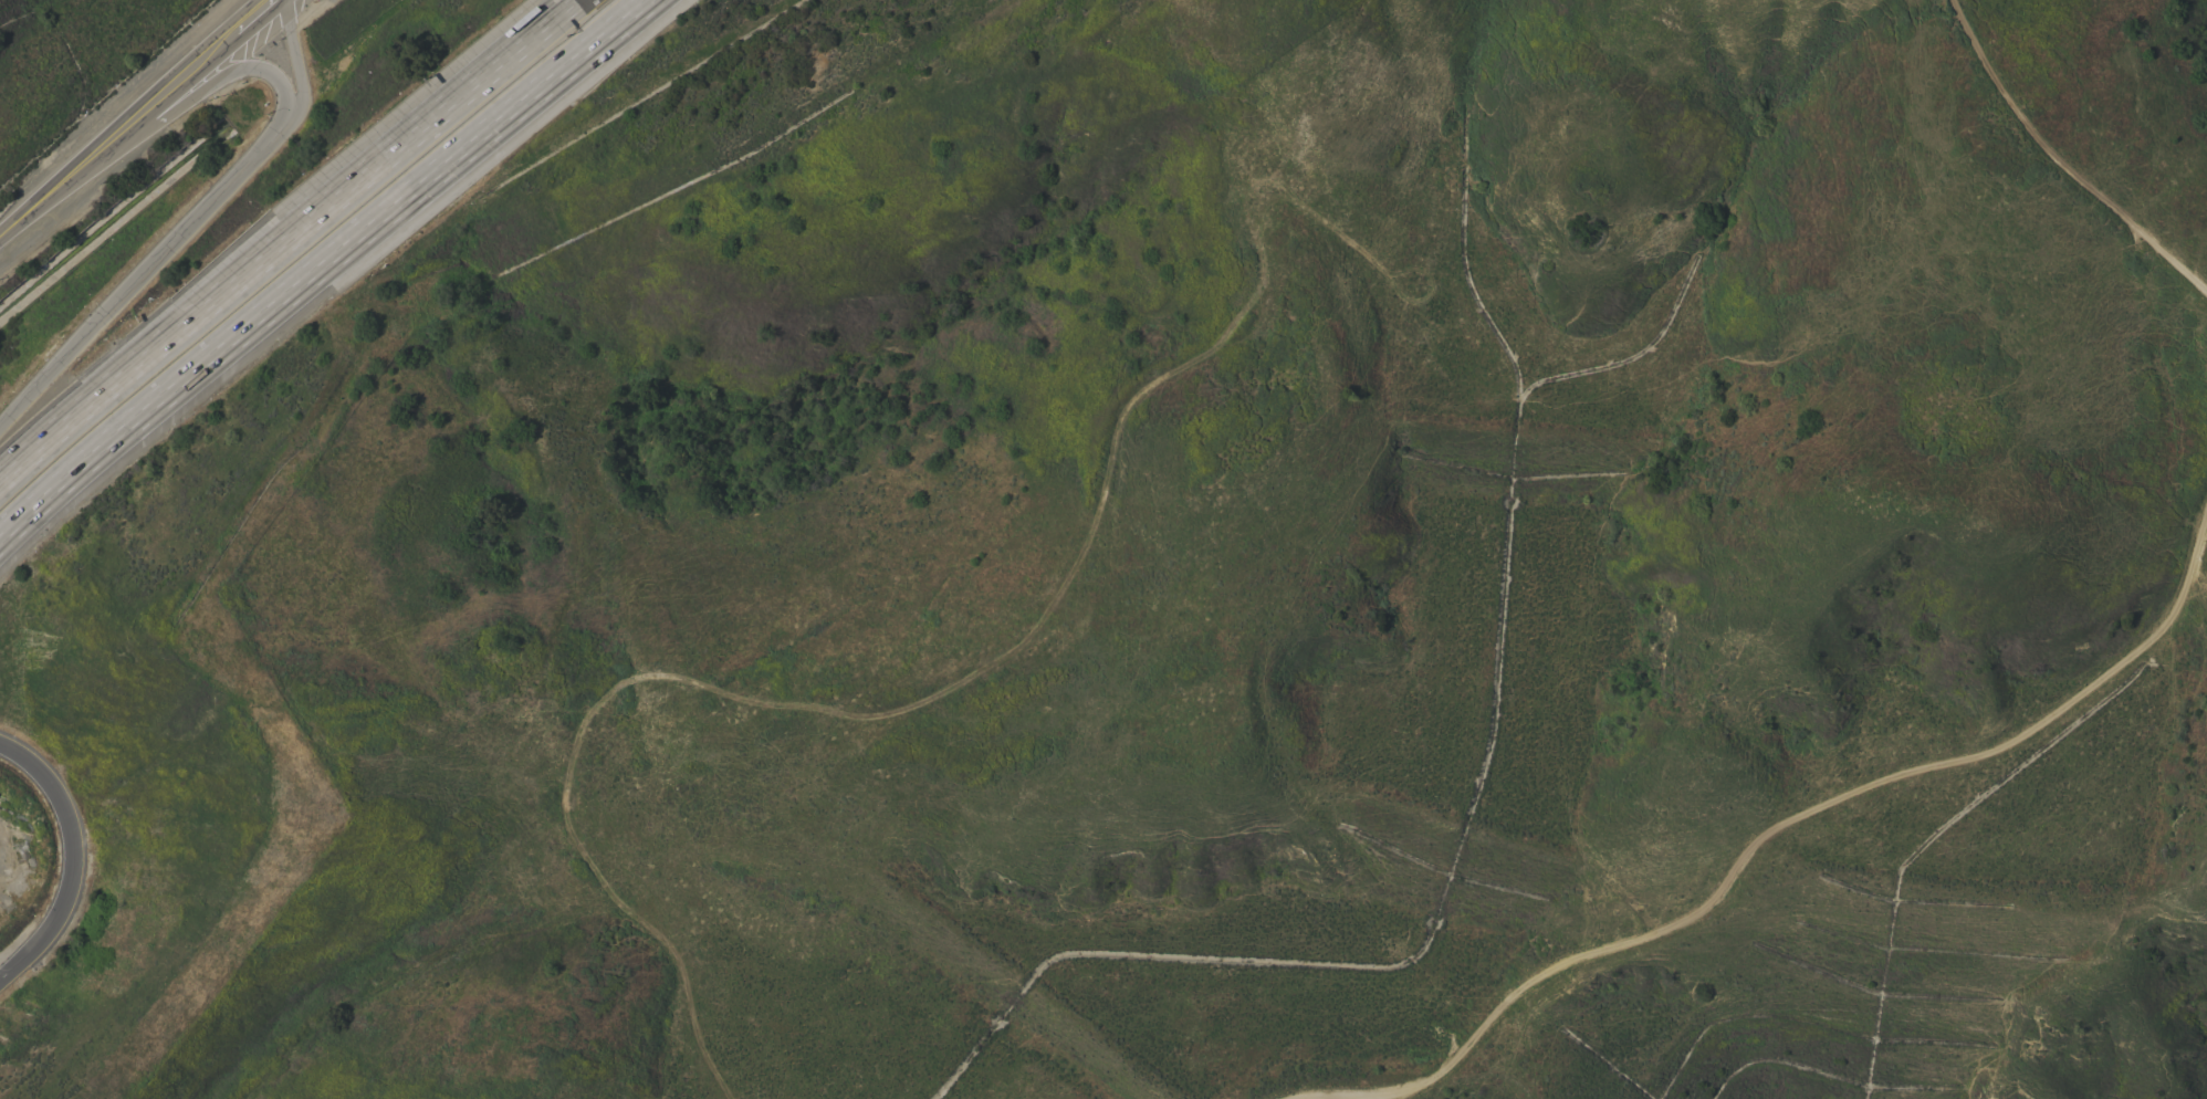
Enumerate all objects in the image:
road: (250, 14)
road: (203, 90)
road: (164, 93)
road: (2053, 171)
road: (46, 196)
road: (187, 233)
road: (279, 241)
road: (316, 260)
road: (1813, 814)
road: (73, 859)

